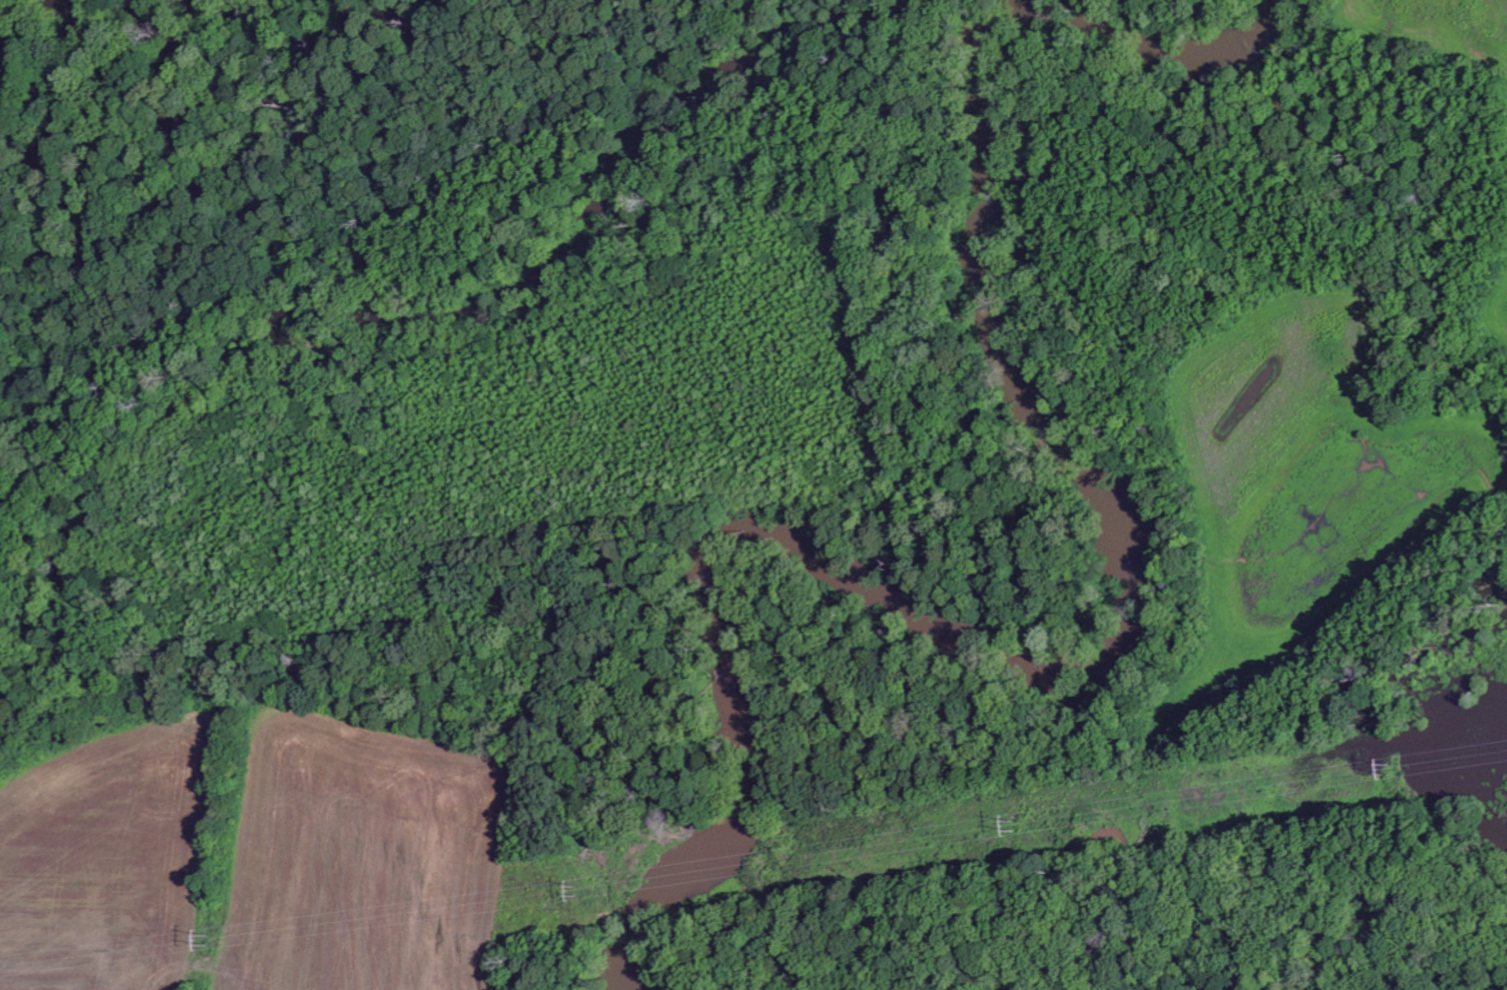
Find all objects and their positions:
river: (1133, 627)

